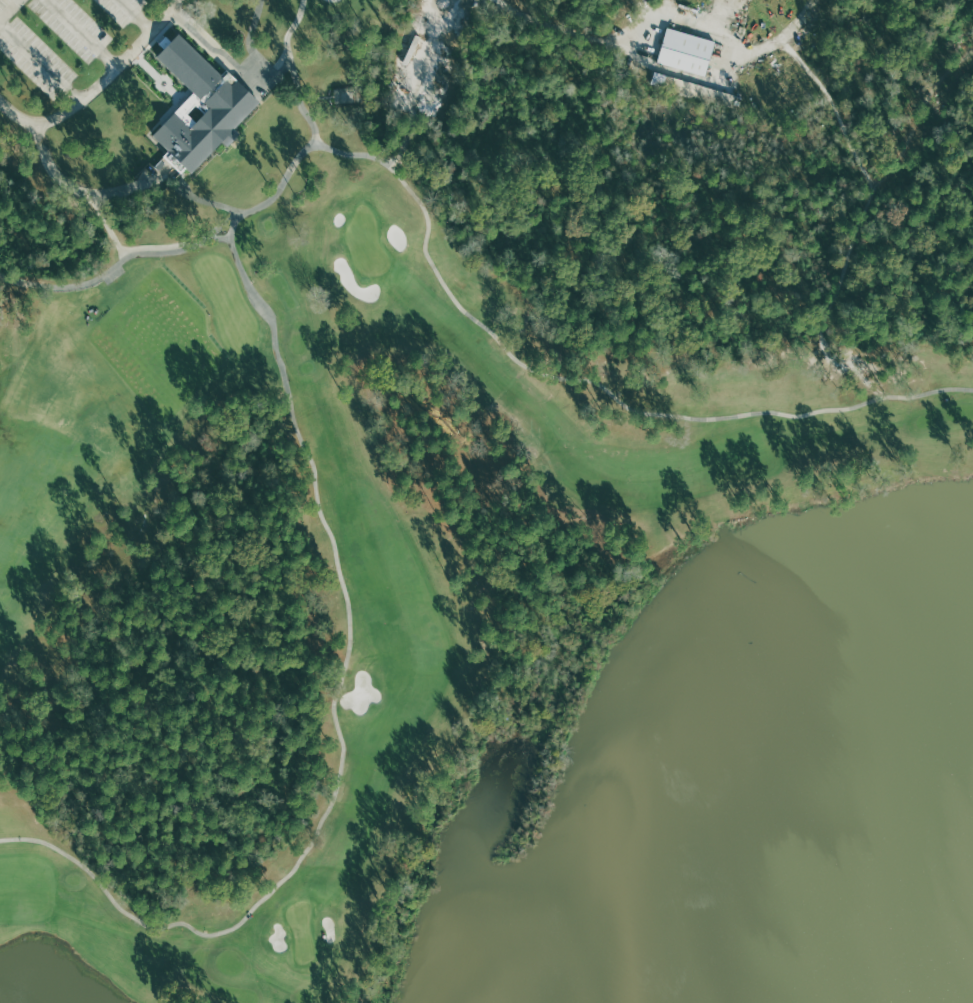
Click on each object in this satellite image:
road: (10, 10)
road: (138, 13)
road: (656, 14)
road: (318, 15)
road: (719, 32)
road: (84, 33)
road: (430, 43)
building: (685, 51)
road: (41, 60)
road: (96, 85)
building: (202, 106)
road: (84, 191)
road: (225, 206)
road: (109, 227)
park: (366, 242)
road: (125, 246)
road: (114, 265)
park: (179, 317)
road: (591, 380)
park: (436, 444)
road: (339, 570)
park: (301, 930)

